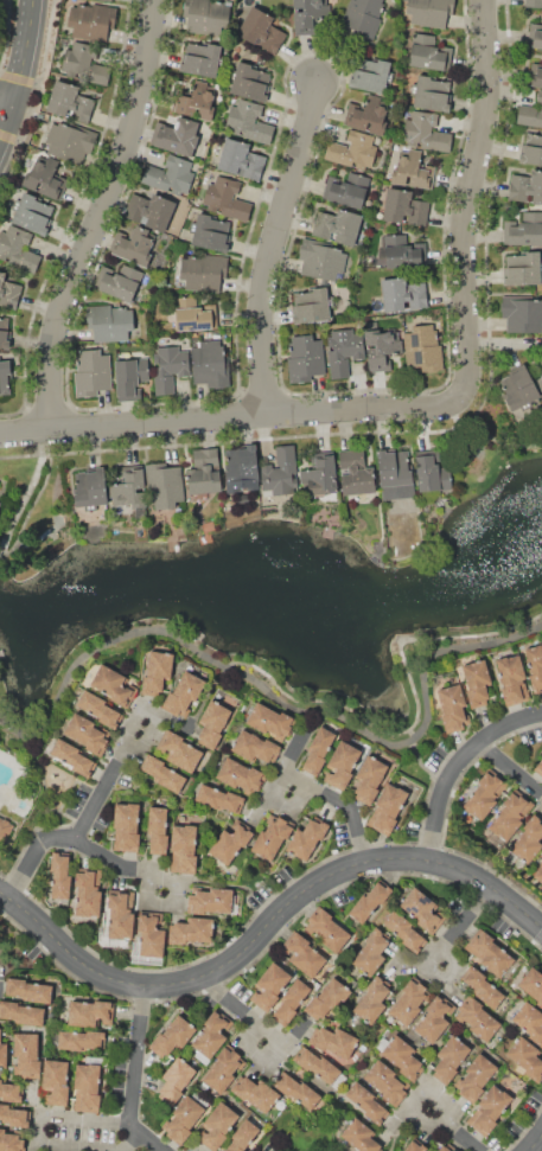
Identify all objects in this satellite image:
building: (534, 4)
building: (429, 12)
building: (206, 15)
building: (310, 15)
park: (2, 17)
building: (363, 17)
building: (93, 20)
building: (261, 31)
building: (535, 34)
building: (428, 53)
building: (202, 59)
building: (84, 64)
building: (370, 75)
road: (23, 77)
building: (537, 77)
building: (250, 82)
building: (433, 92)
building: (197, 101)
building: (70, 102)
road: (7, 105)
building: (530, 113)
building: (369, 114)
building: (248, 122)
building: (426, 132)
building: (176, 135)
building: (69, 142)
building: (531, 148)
building: (353, 151)
building: (240, 160)
building: (413, 171)
building: (171, 175)
building: (45, 178)
building: (527, 186)
building: (346, 188)
building: (227, 198)
building: (404, 207)
building: (151, 210)
building: (33, 213)
road: (100, 216)
building: (340, 225)
building: (523, 229)
building: (211, 232)
building: (135, 245)
building: (18, 248)
road: (274, 249)
building: (402, 251)
building: (321, 260)
building: (523, 269)
building: (204, 271)
building: (119, 281)
building: (8, 292)
building: (402, 294)
building: (312, 305)
building: (522, 313)
building: (195, 314)
building: (109, 322)
building: (5, 332)
building: (381, 347)
building: (422, 347)
building: (344, 350)
building: (306, 357)
building: (541, 360)
building: (210, 364)
building: (168, 367)
building: (91, 372)
building: (130, 377)
building: (537, 377)
building: (5, 378)
building: (518, 388)
road: (432, 405)
road: (484, 442)
building: (242, 468)
building: (394, 468)
building: (204, 472)
building: (281, 472)
building: (431, 472)
building: (355, 473)
building: (319, 477)
building: (164, 486)
building: (90, 488)
building: (129, 488)
road: (27, 493)
building: (0, 504)
building: (535, 666)
building: (157, 672)
building: (512, 679)
building: (477, 683)
building: (115, 685)
building: (184, 693)
road: (281, 701)
building: (453, 708)
building: (100, 710)
building: (270, 722)
building: (212, 724)
building: (88, 734)
building: (255, 747)
building: (180, 752)
building: (318, 752)
building: (74, 756)
road: (459, 765)
building: (340, 766)
road: (511, 767)
road: (423, 768)
building: (538, 768)
building: (164, 773)
building: (241, 775)
building: (368, 780)
building: (484, 795)
building: (218, 798)
road: (344, 802)
building: (387, 808)
road: (88, 811)
building: (510, 816)
building: (126, 826)
building: (4, 829)
building: (159, 829)
building: (272, 837)
building: (306, 837)
building: (529, 839)
building: (230, 842)
building: (185, 848)
road: (120, 863)
road: (464, 869)
building: (60, 875)
building: (538, 875)
building: (88, 893)
building: (370, 900)
building: (211, 901)
building: (423, 909)
building: (121, 915)
building: (326, 928)
road: (460, 928)
building: (192, 931)
building: (404, 931)
building: (151, 933)
building: (371, 951)
building: (304, 953)
building: (489, 953)
road: (187, 981)
building: (531, 984)
building: (269, 986)
building: (482, 986)
building: (28, 990)
building: (372, 998)
building: (326, 999)
building: (292, 1000)
building: (409, 1000)
road: (248, 1011)
building: (21, 1012)
building: (90, 1013)
building: (435, 1018)
building: (477, 1018)
building: (530, 1021)
building: (212, 1032)
building: (173, 1036)
building: (81, 1041)
building: (333, 1041)
building: (2, 1053)
building: (26, 1055)
building: (401, 1055)
building: (527, 1057)
building: (449, 1059)
building: (320, 1067)
building: (224, 1068)
building: (476, 1078)
building: (176, 1080)
building: (55, 1081)
building: (387, 1082)
building: (87, 1087)
building: (298, 1089)
building: (9, 1092)
building: (255, 1092)
road: (135, 1096)
building: (368, 1101)
building: (489, 1110)
building: (14, 1117)
building: (183, 1119)
building: (217, 1126)
road: (458, 1130)
road: (110, 1136)
building: (243, 1136)
building: (361, 1136)
road: (149, 1137)
building: (11, 1142)
building: (415, 1145)
road: (536, 1145)
building: (447, 1147)
building: (401, 1150)

